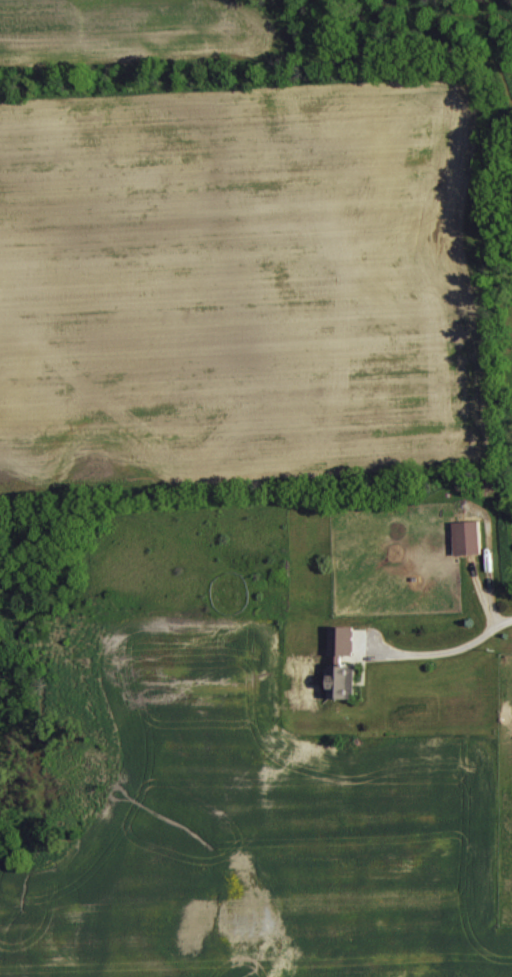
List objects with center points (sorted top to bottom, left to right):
building: (465, 535)
building: (340, 639)
building: (340, 680)

